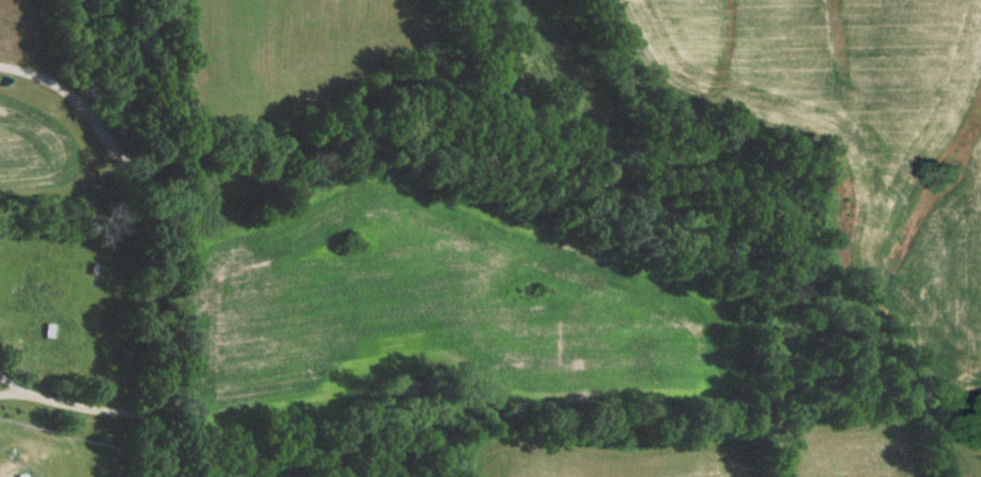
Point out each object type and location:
road: (89, 110)
road: (159, 333)
road: (10, 384)
road: (10, 395)
road: (91, 409)
building: (21, 475)

